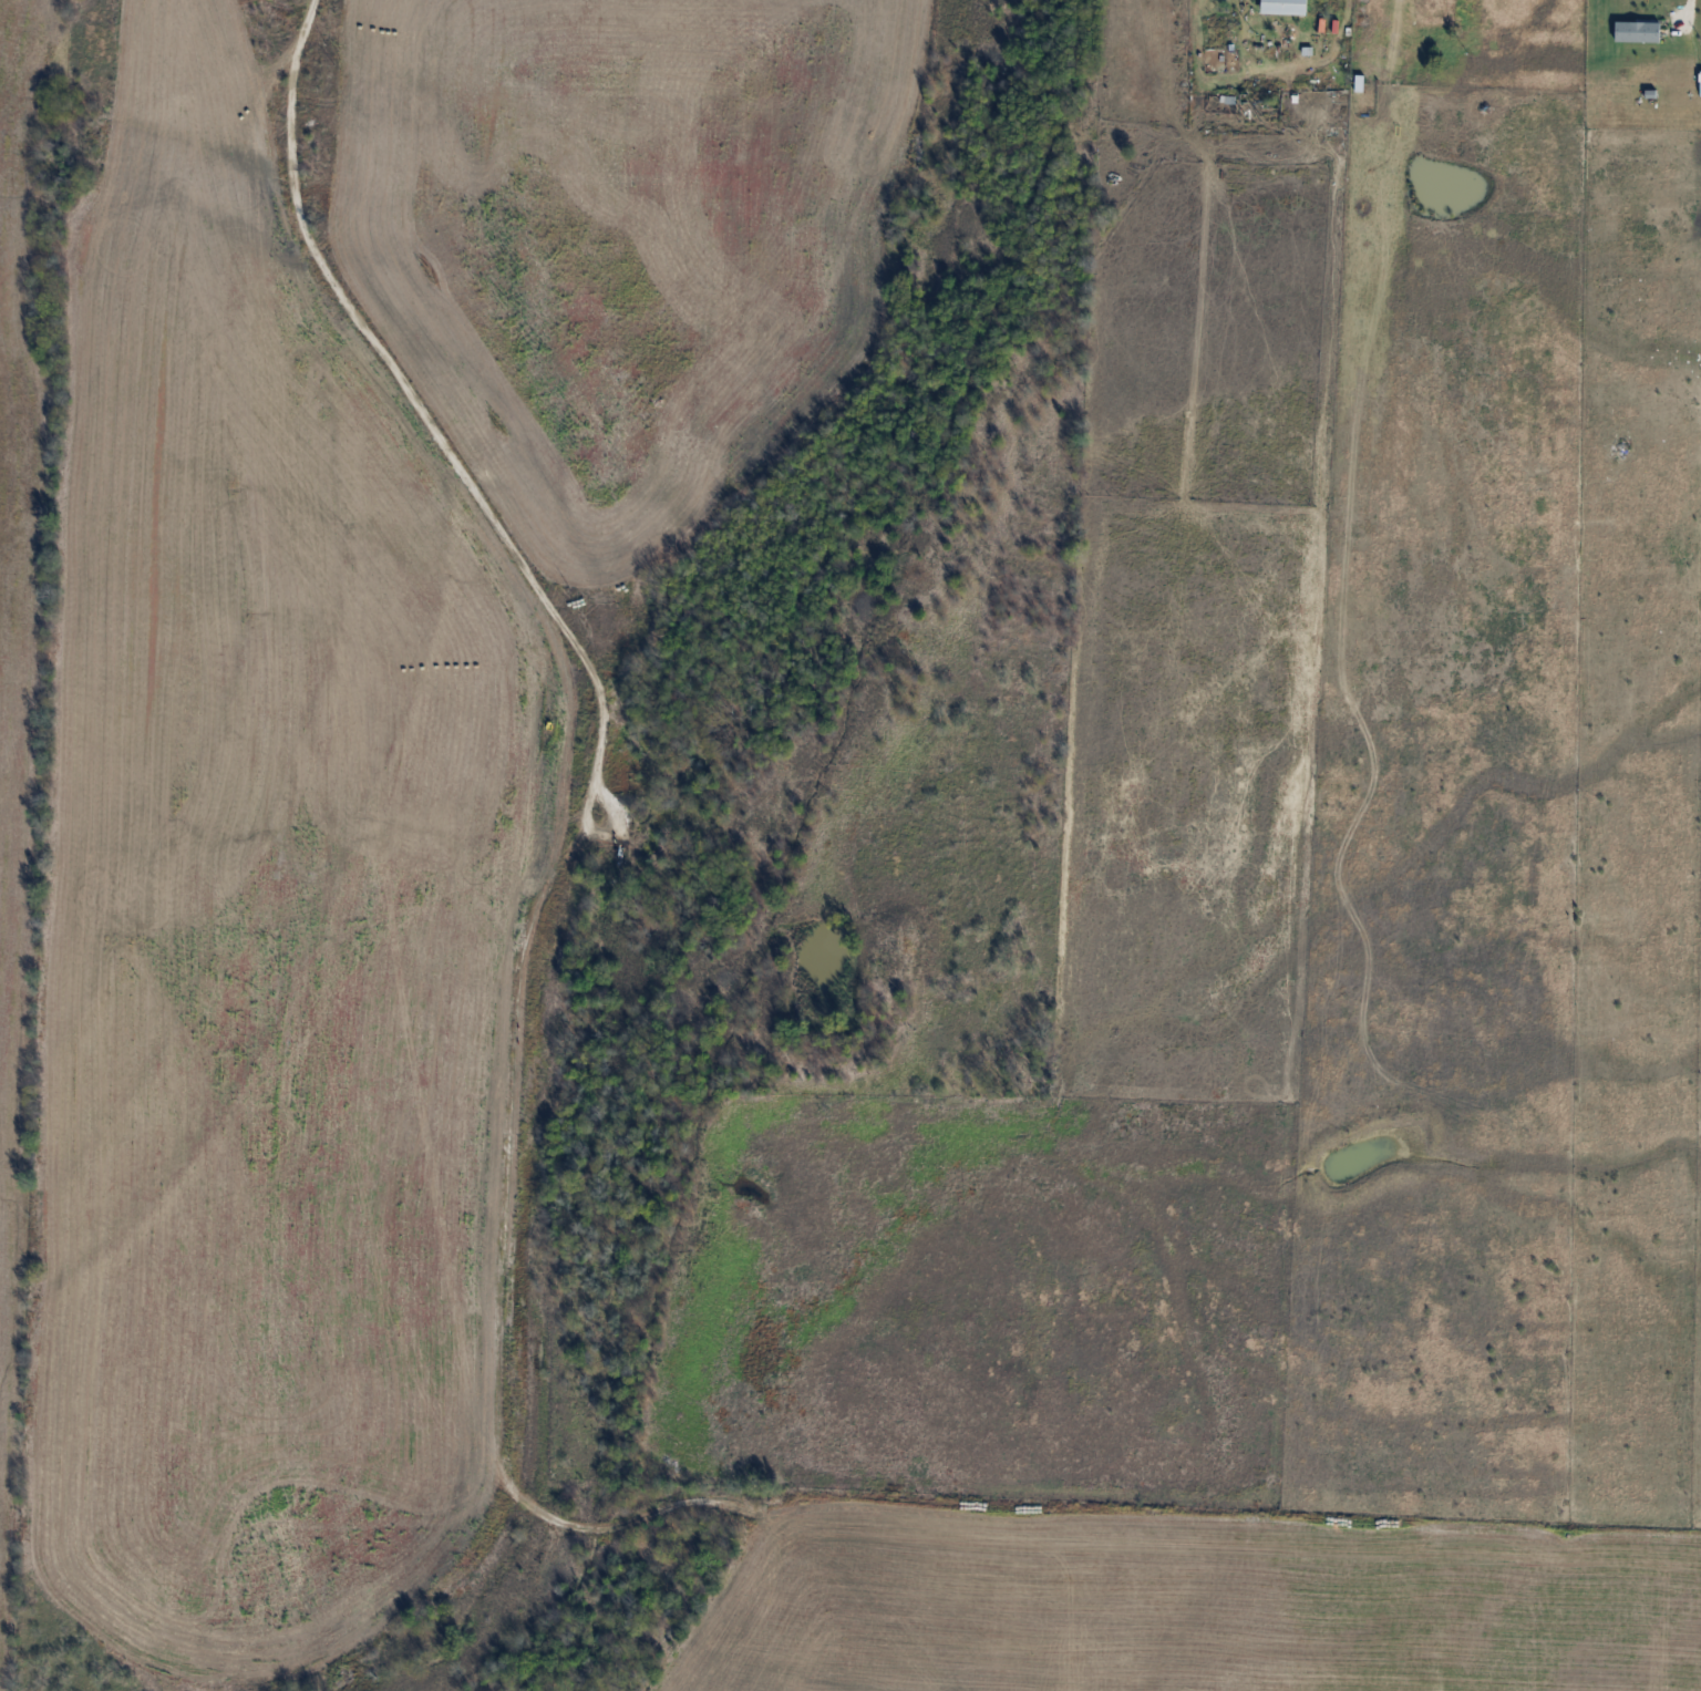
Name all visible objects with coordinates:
building: (1269, 4)
road: (1693, 12)
building: (1635, 30)
building: (1417, 41)
building: (1359, 163)

